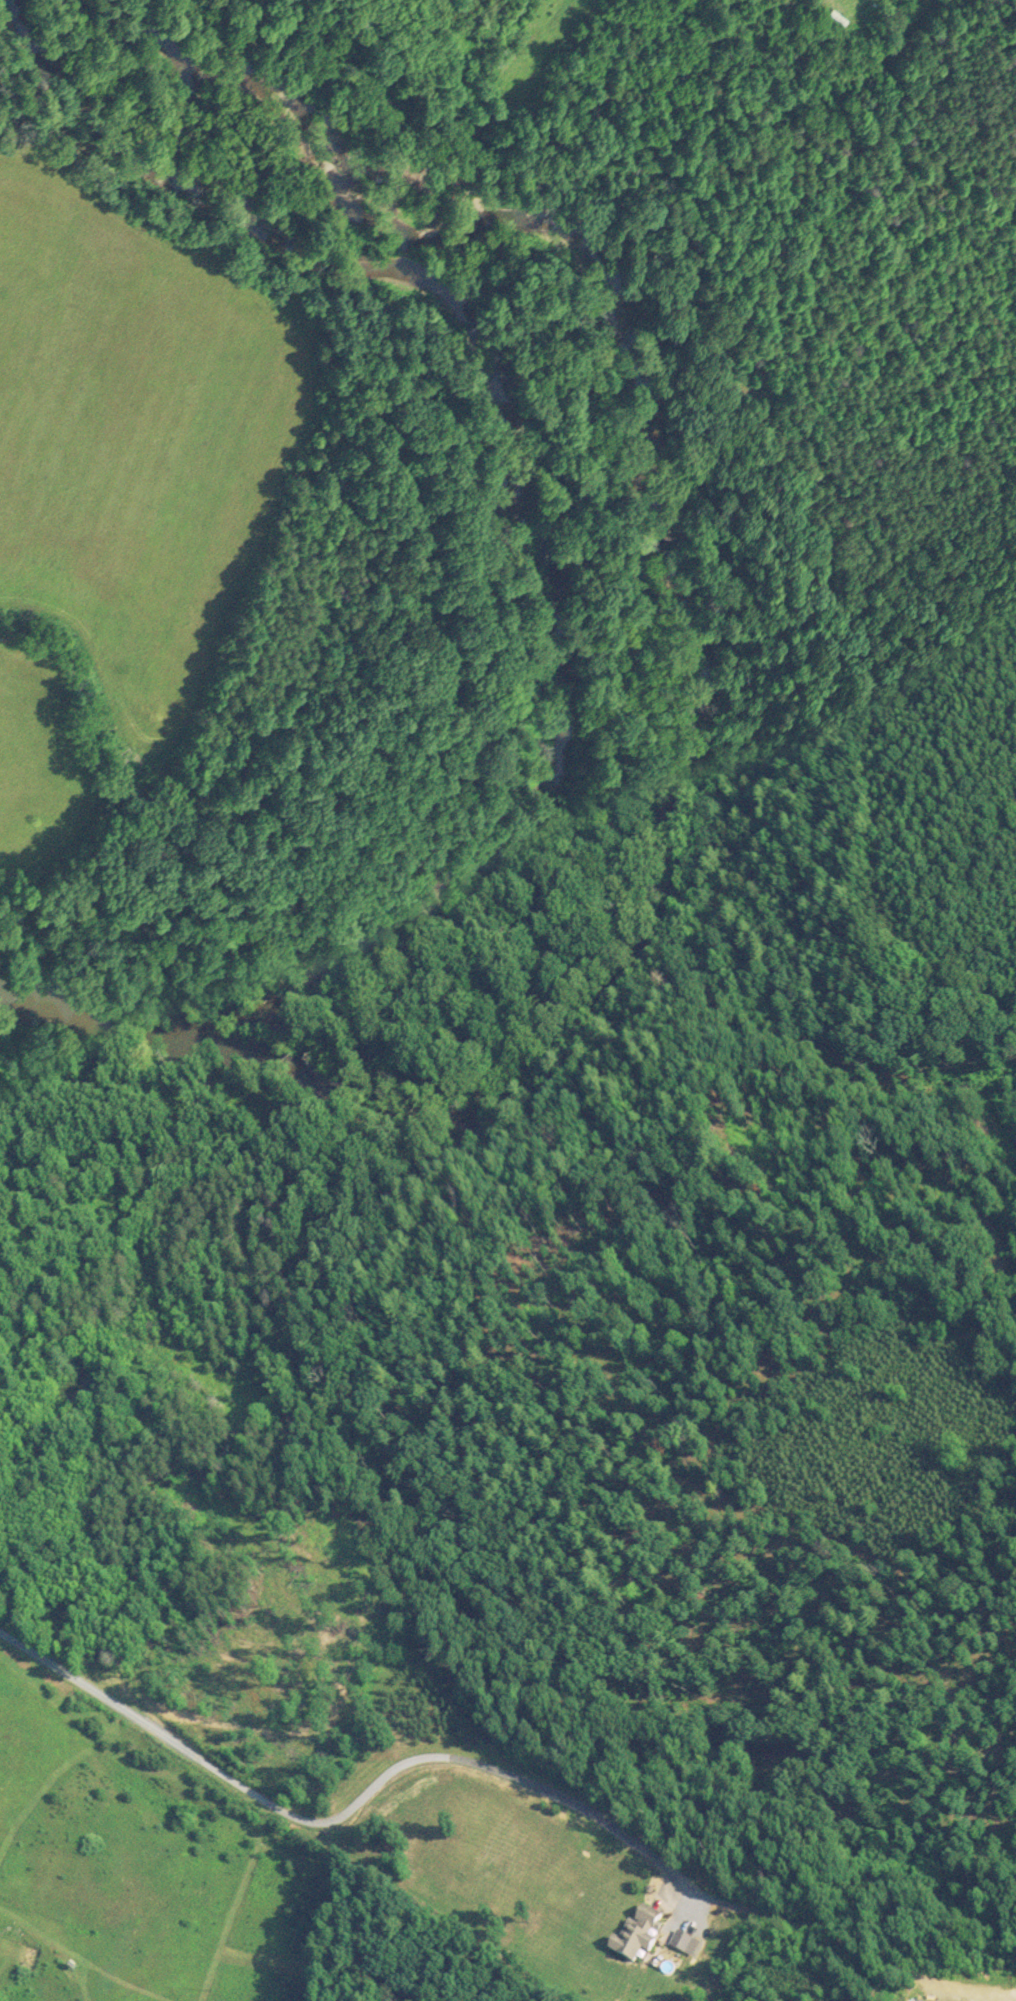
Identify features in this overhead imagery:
river: (534, 605)
road: (342, 1818)
building: (643, 1932)

